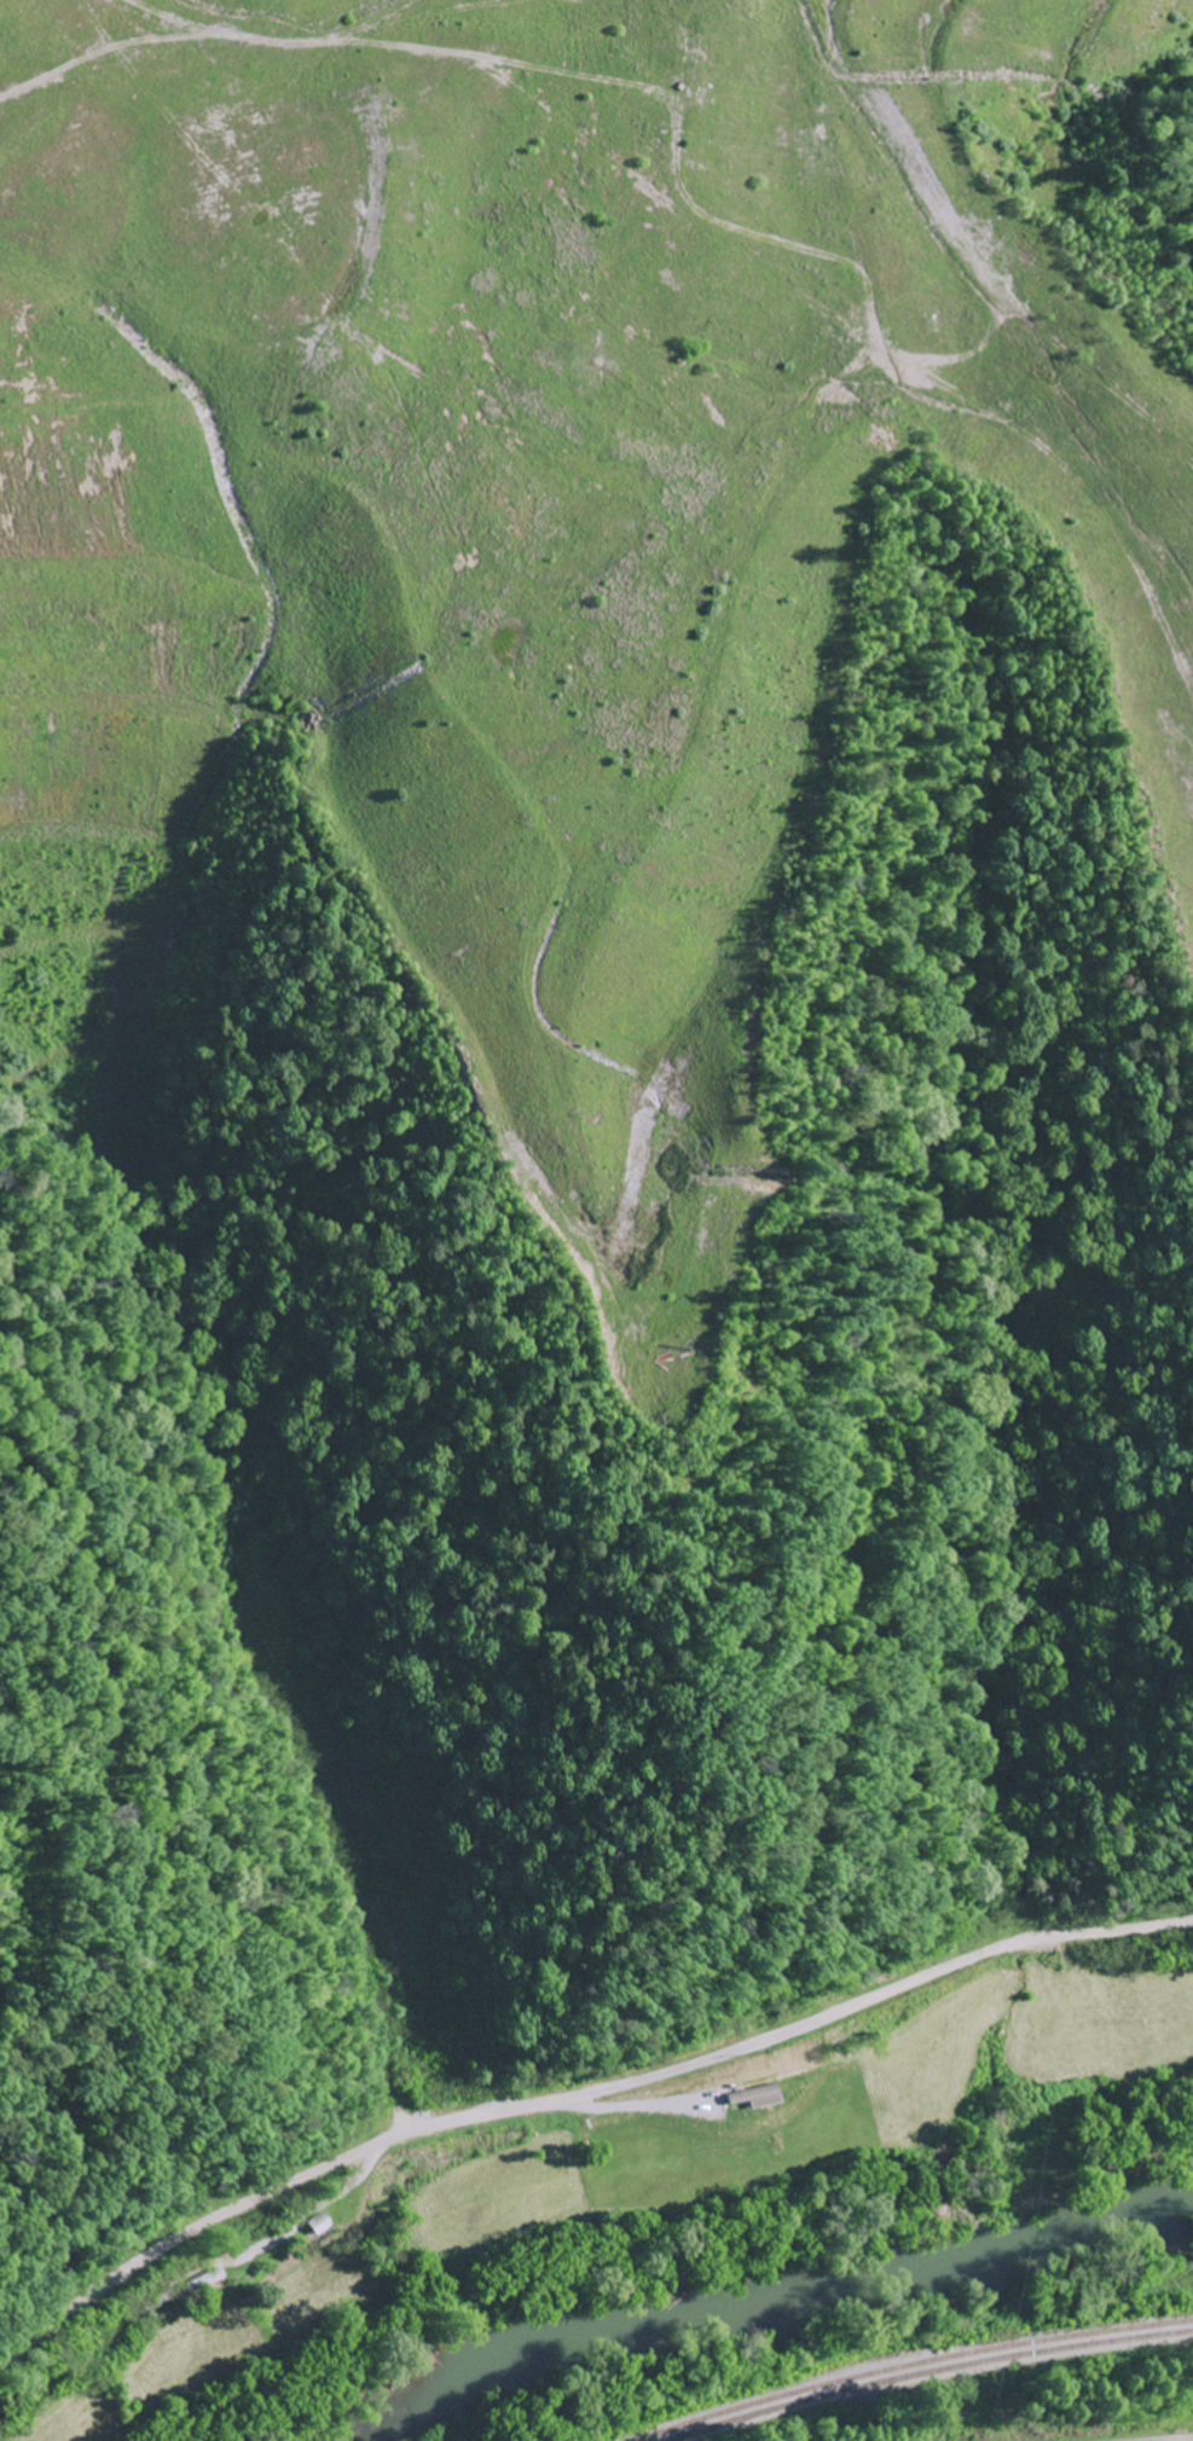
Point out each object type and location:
road: (577, 2095)
river: (772, 2297)
railway: (913, 2366)
railway: (931, 2373)
road: (1187, 2440)

